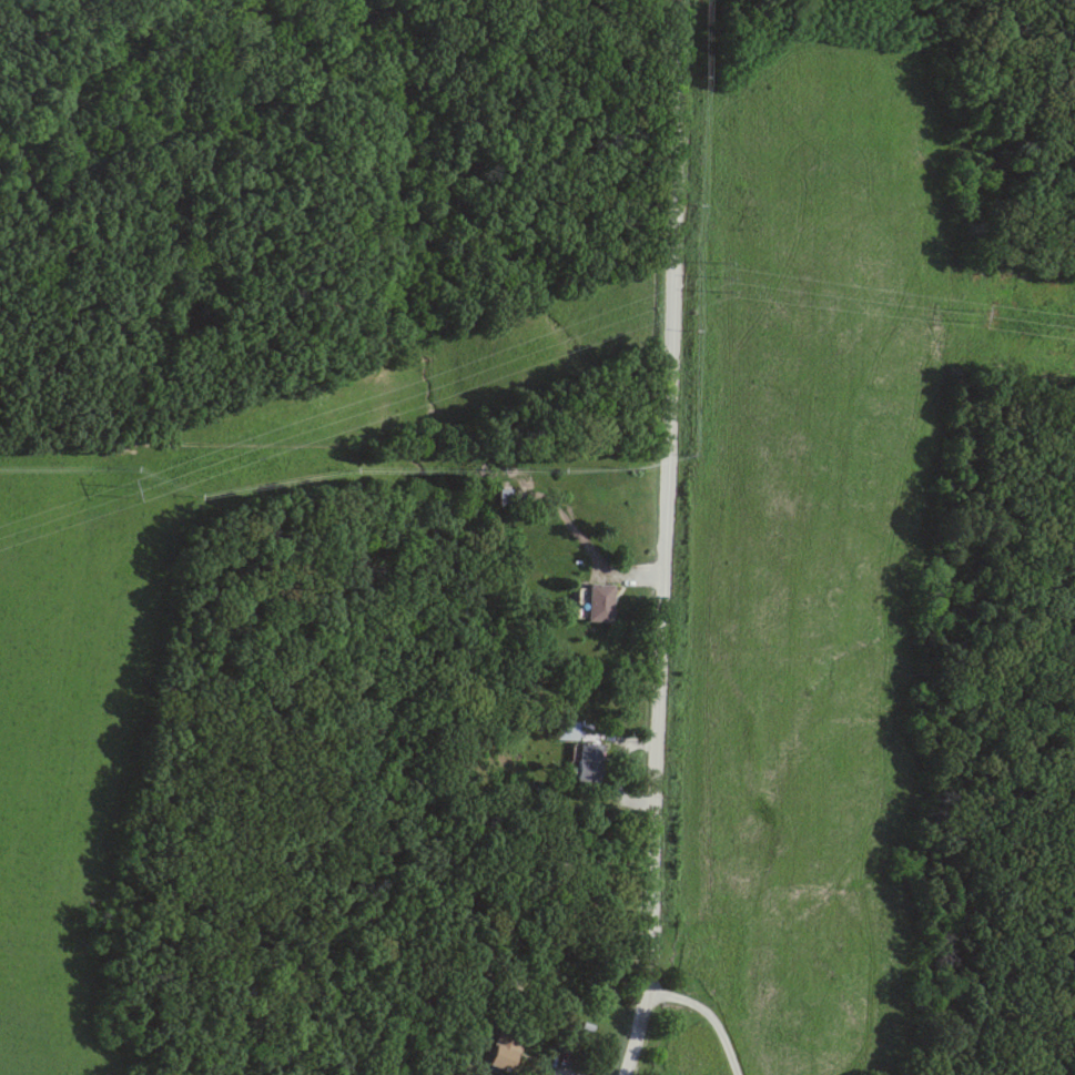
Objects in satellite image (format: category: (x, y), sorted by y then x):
power tower: (717, 261)
power tower: (718, 277)
power tower: (718, 293)
power tower: (970, 311)
power tower: (121, 486)
road: (666, 539)
building: (590, 602)
building: (586, 763)
road: (708, 1015)
building: (572, 1042)
building: (501, 1049)

